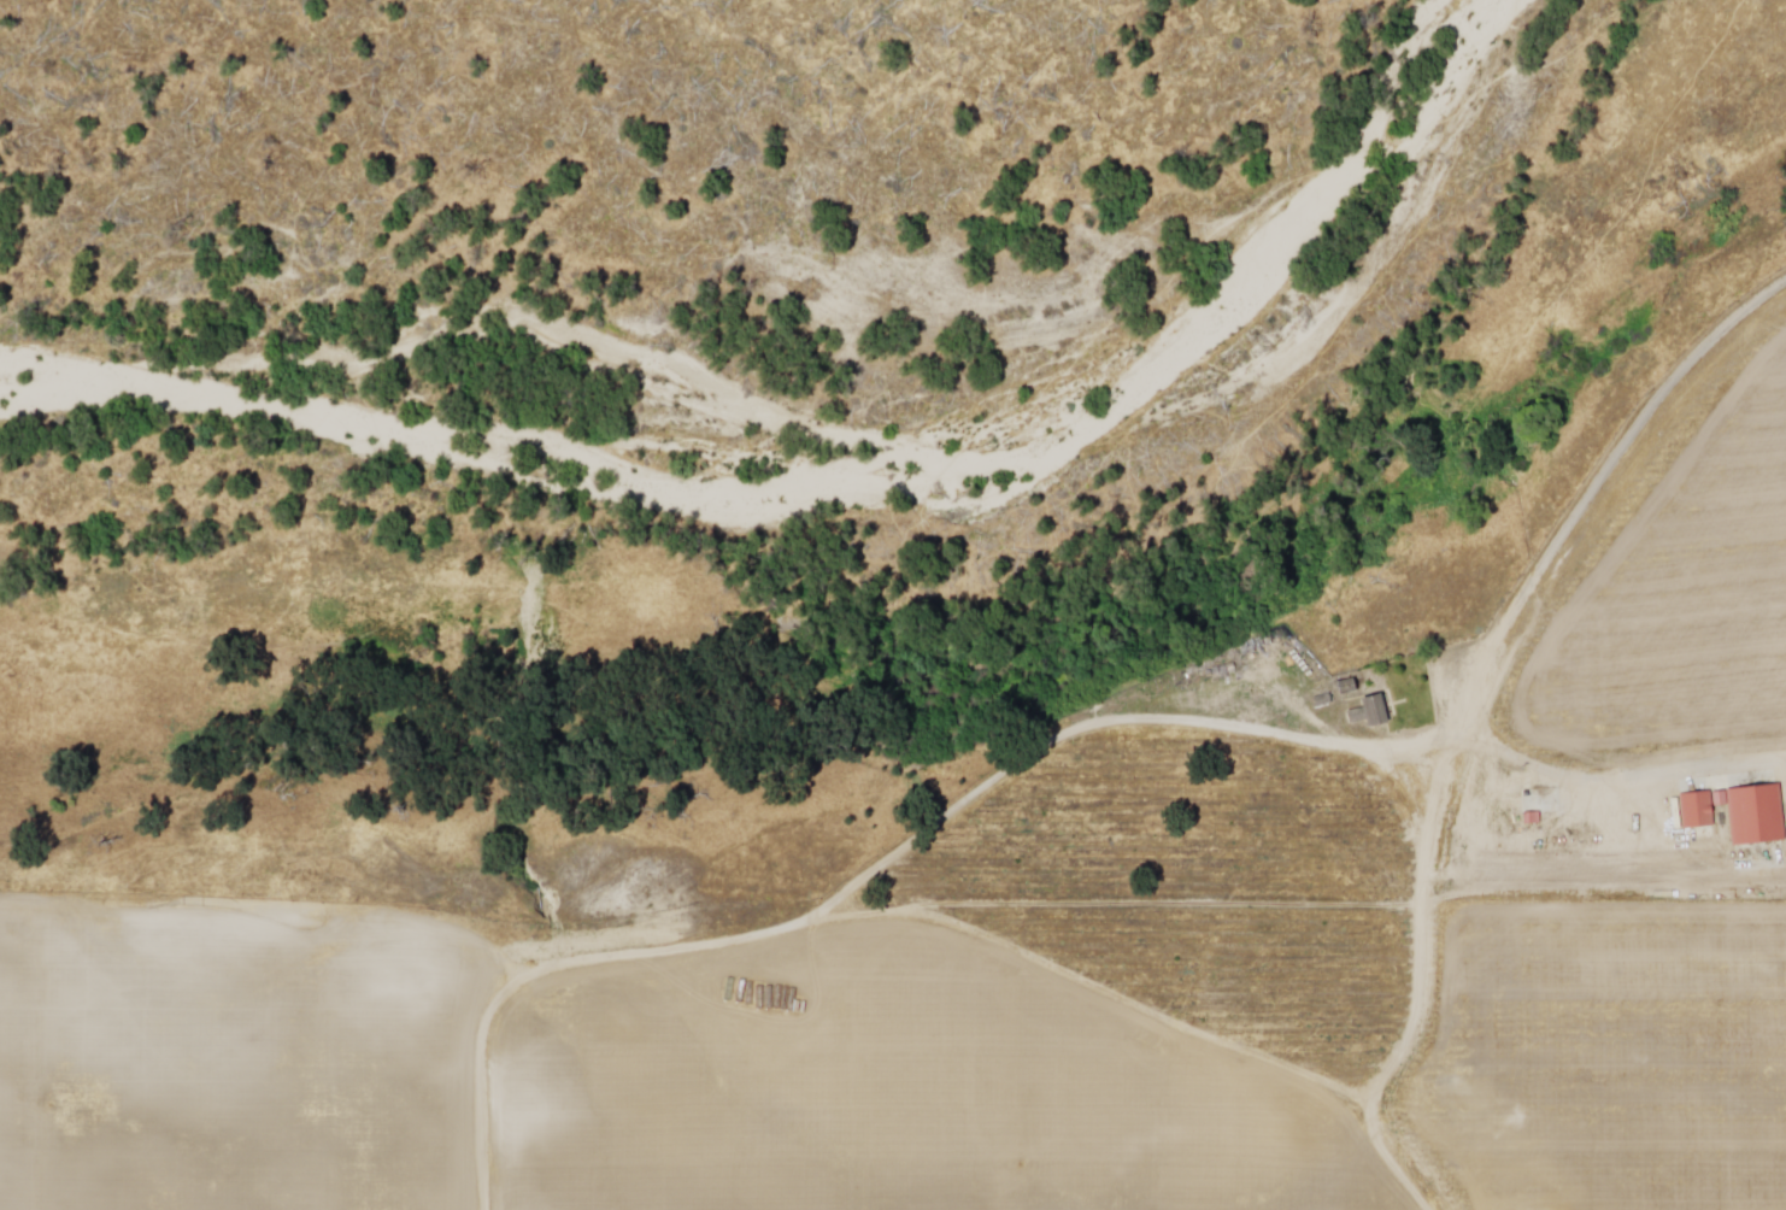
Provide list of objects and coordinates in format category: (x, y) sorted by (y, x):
river: (1474, 41)
river: (792, 431)
road: (1511, 621)
building: (1346, 689)
building: (1369, 716)
road: (1451, 780)
building: (1720, 801)
building: (1697, 812)
building: (1757, 818)
road: (1426, 889)

